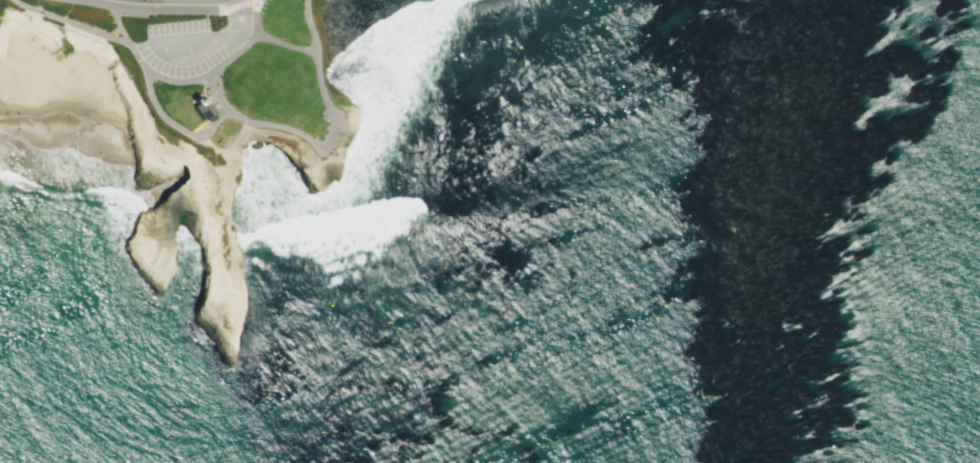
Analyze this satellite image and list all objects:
road: (84, 0)
road: (166, 10)
road: (238, 15)
road: (69, 21)
parking lot: (190, 43)
road: (284, 43)
road: (157, 49)
road: (220, 63)
road: (216, 91)
lighthouse: (196, 100)
building: (201, 106)
park: (190, 110)
road: (247, 120)

